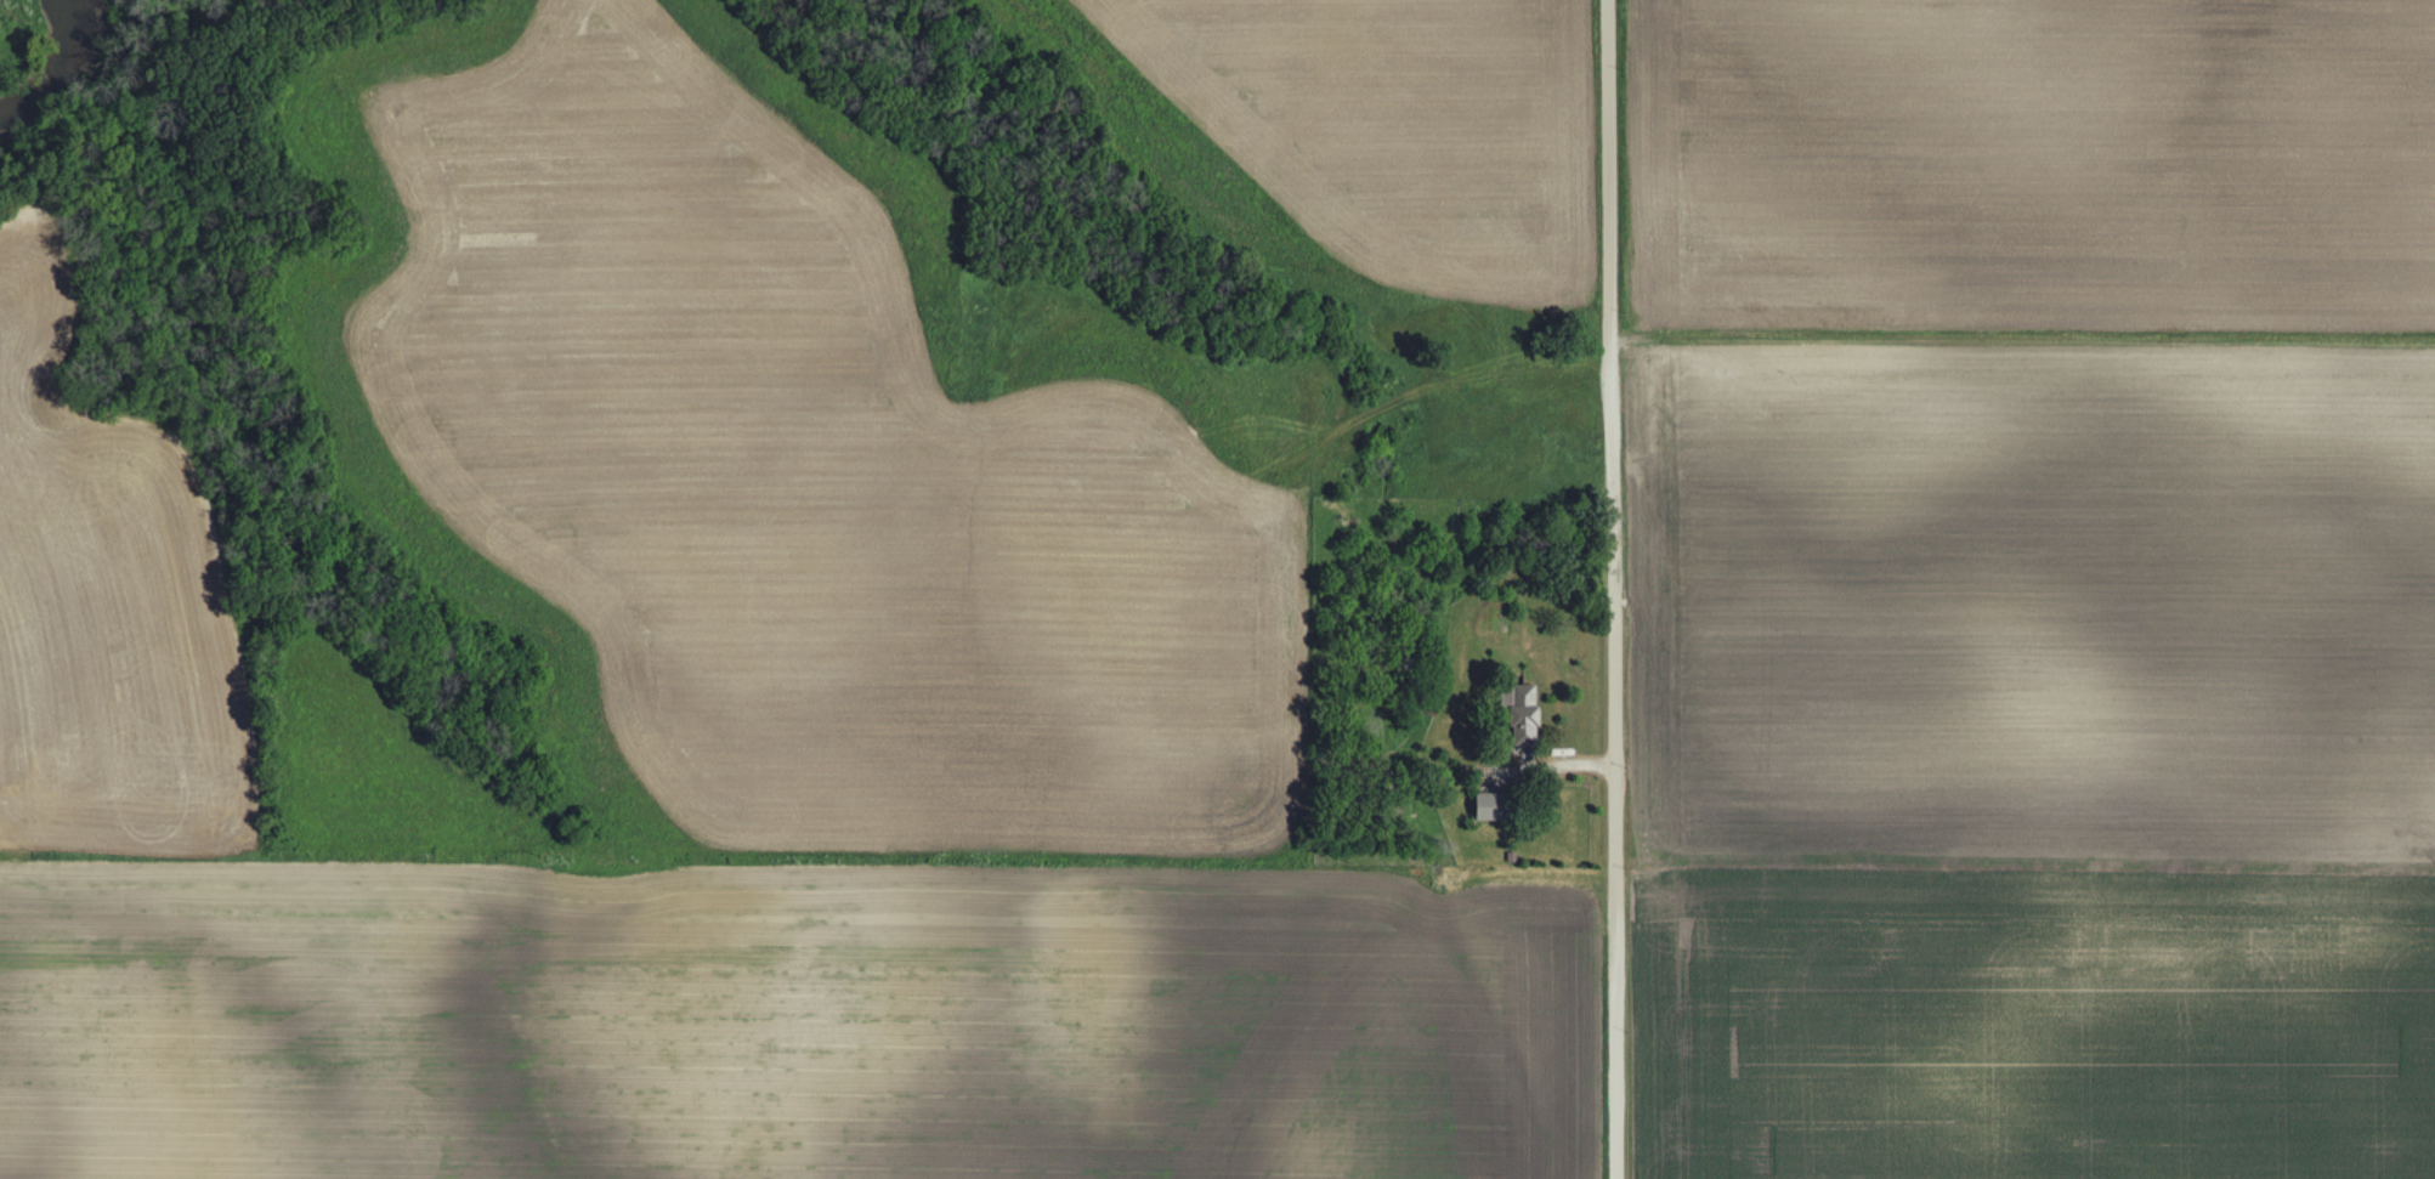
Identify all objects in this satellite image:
road: (1610, 589)
building: (1521, 713)
building: (1488, 807)

